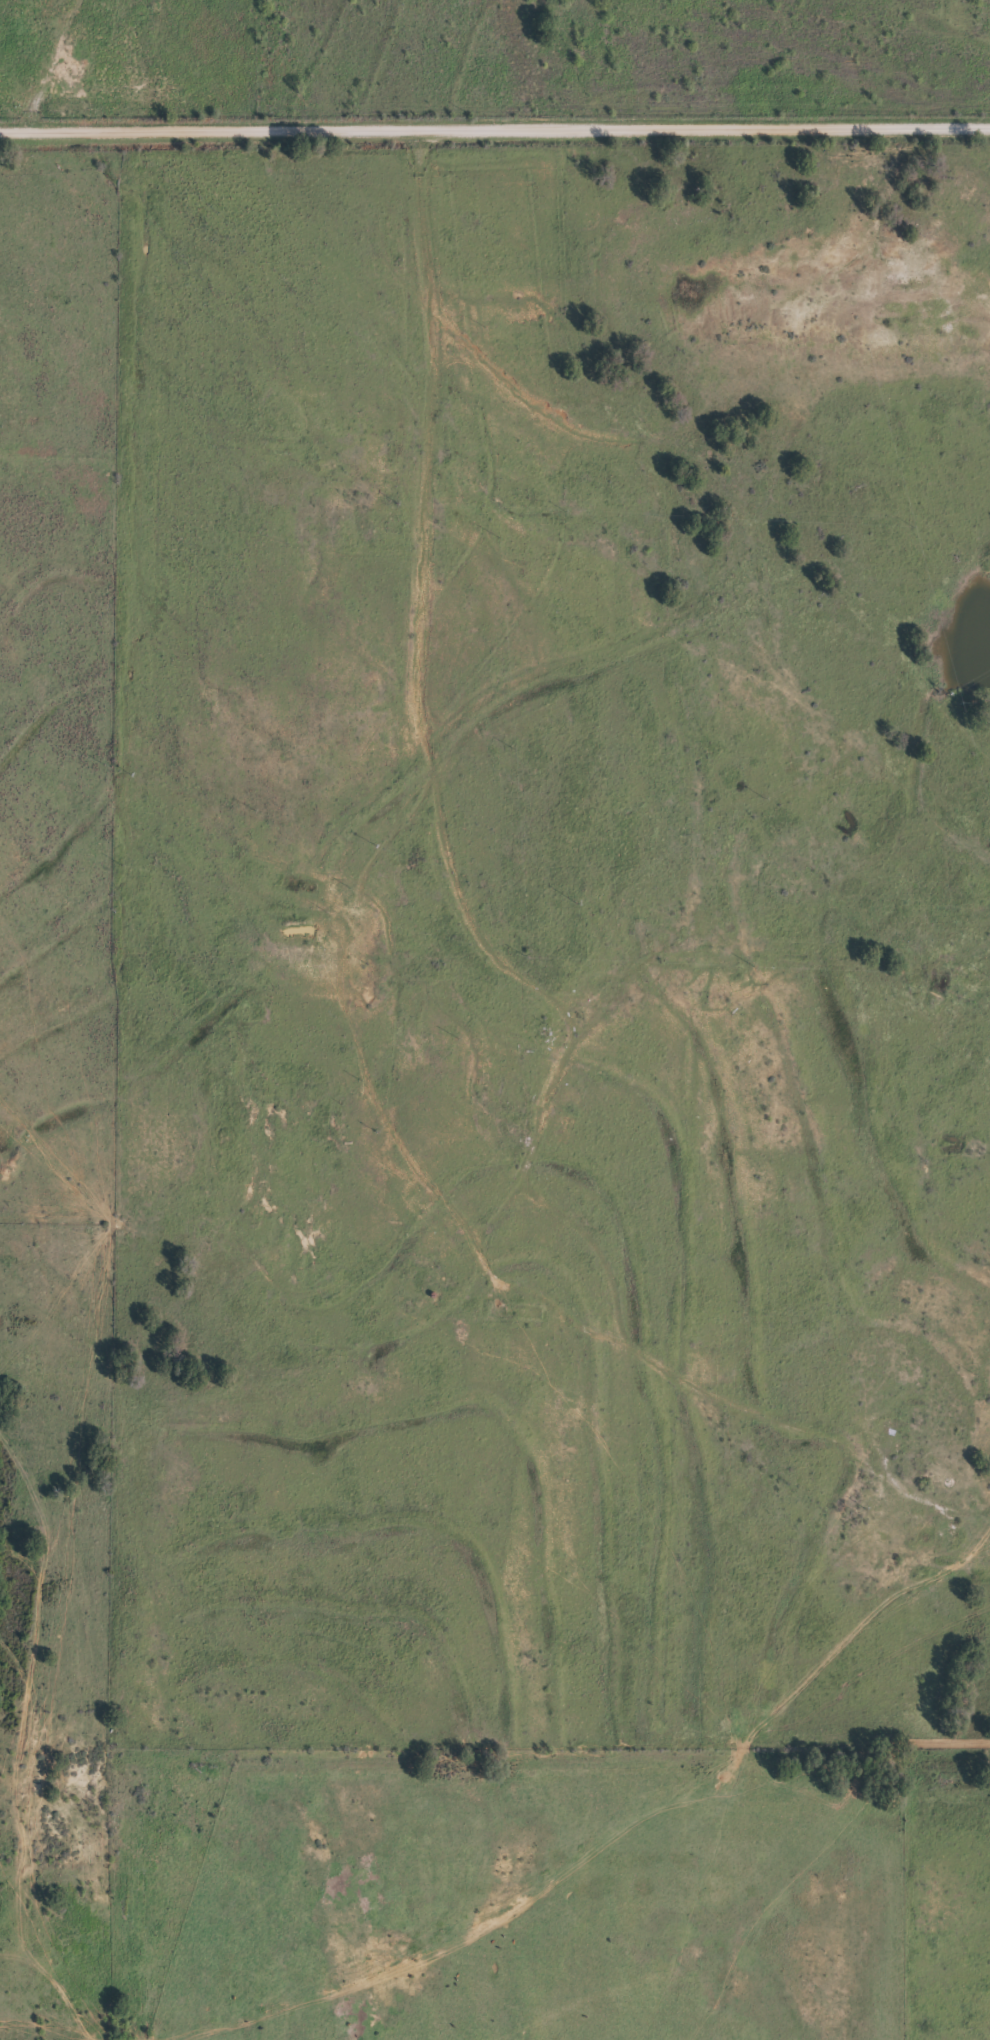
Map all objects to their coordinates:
road: (495, 131)

